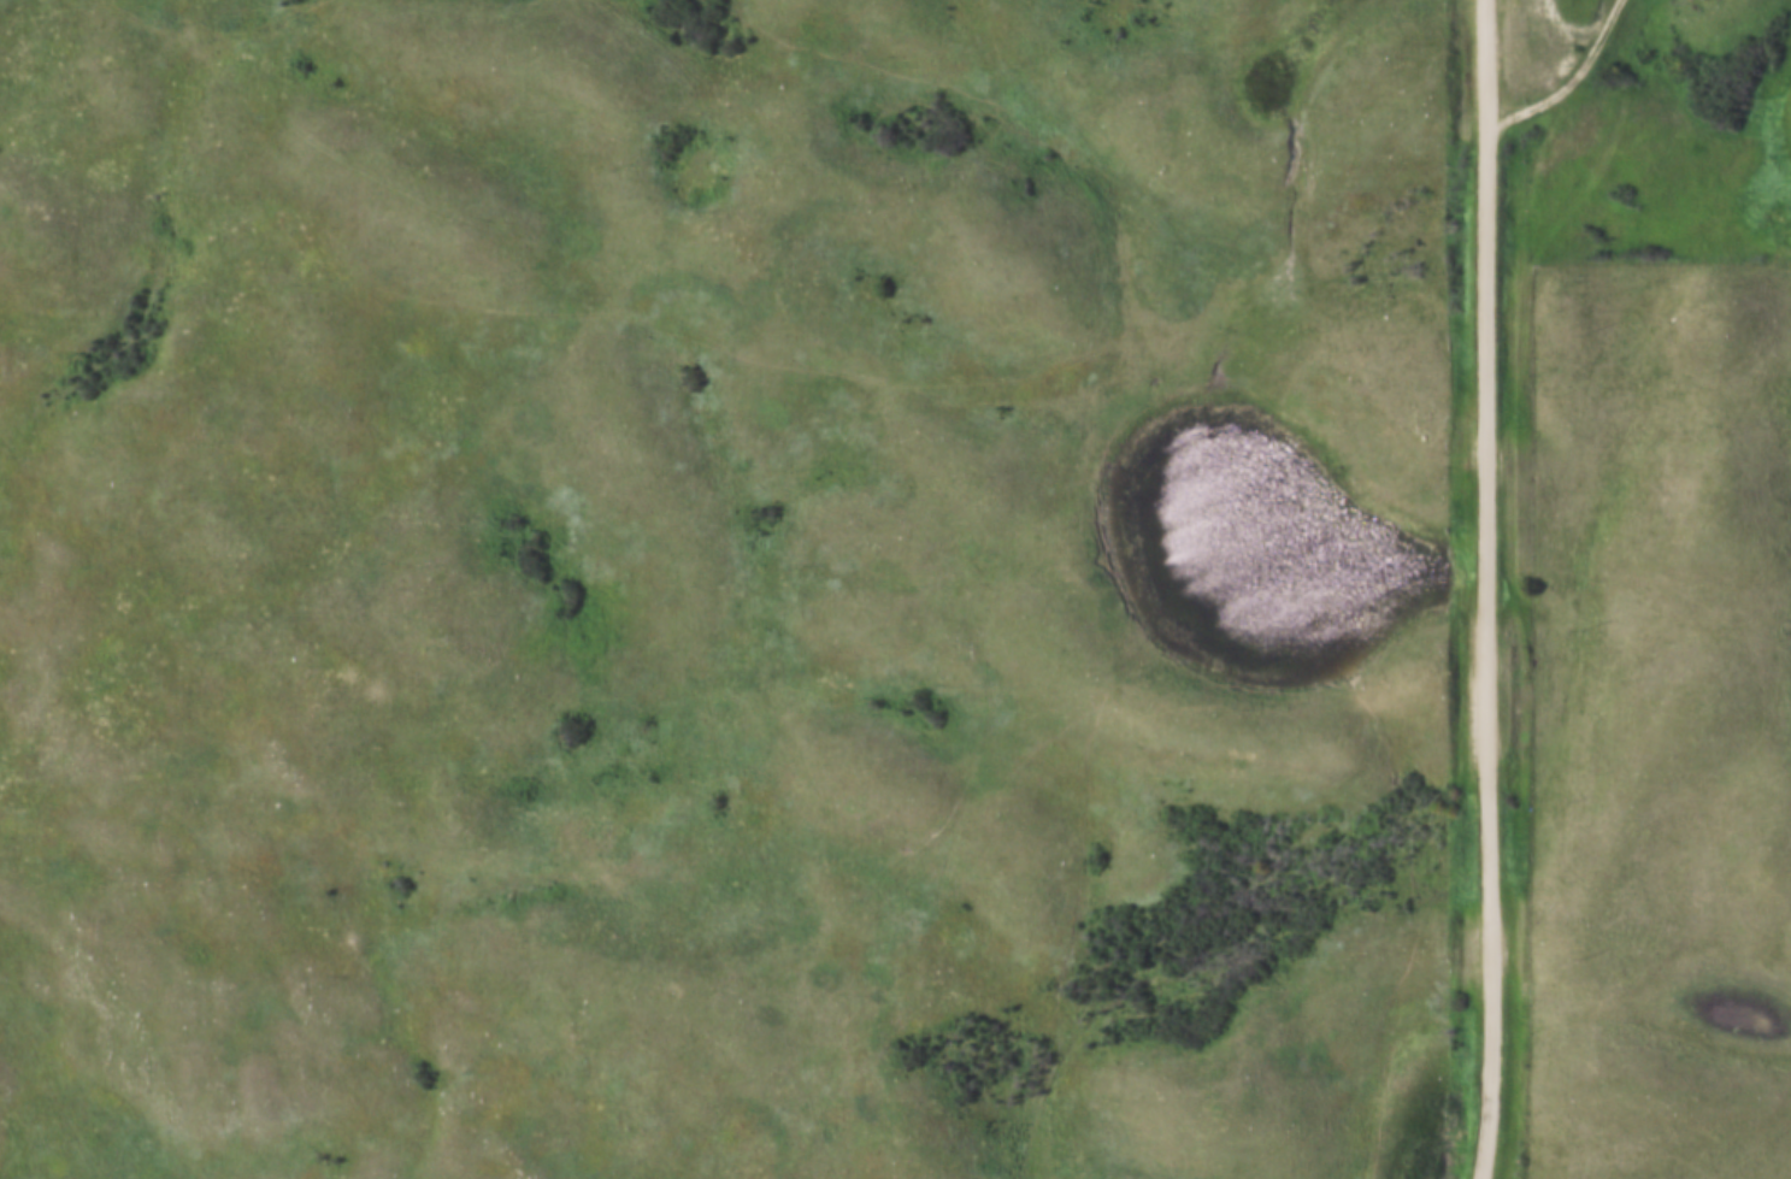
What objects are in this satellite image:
road: (1573, 77)
road: (1489, 589)

